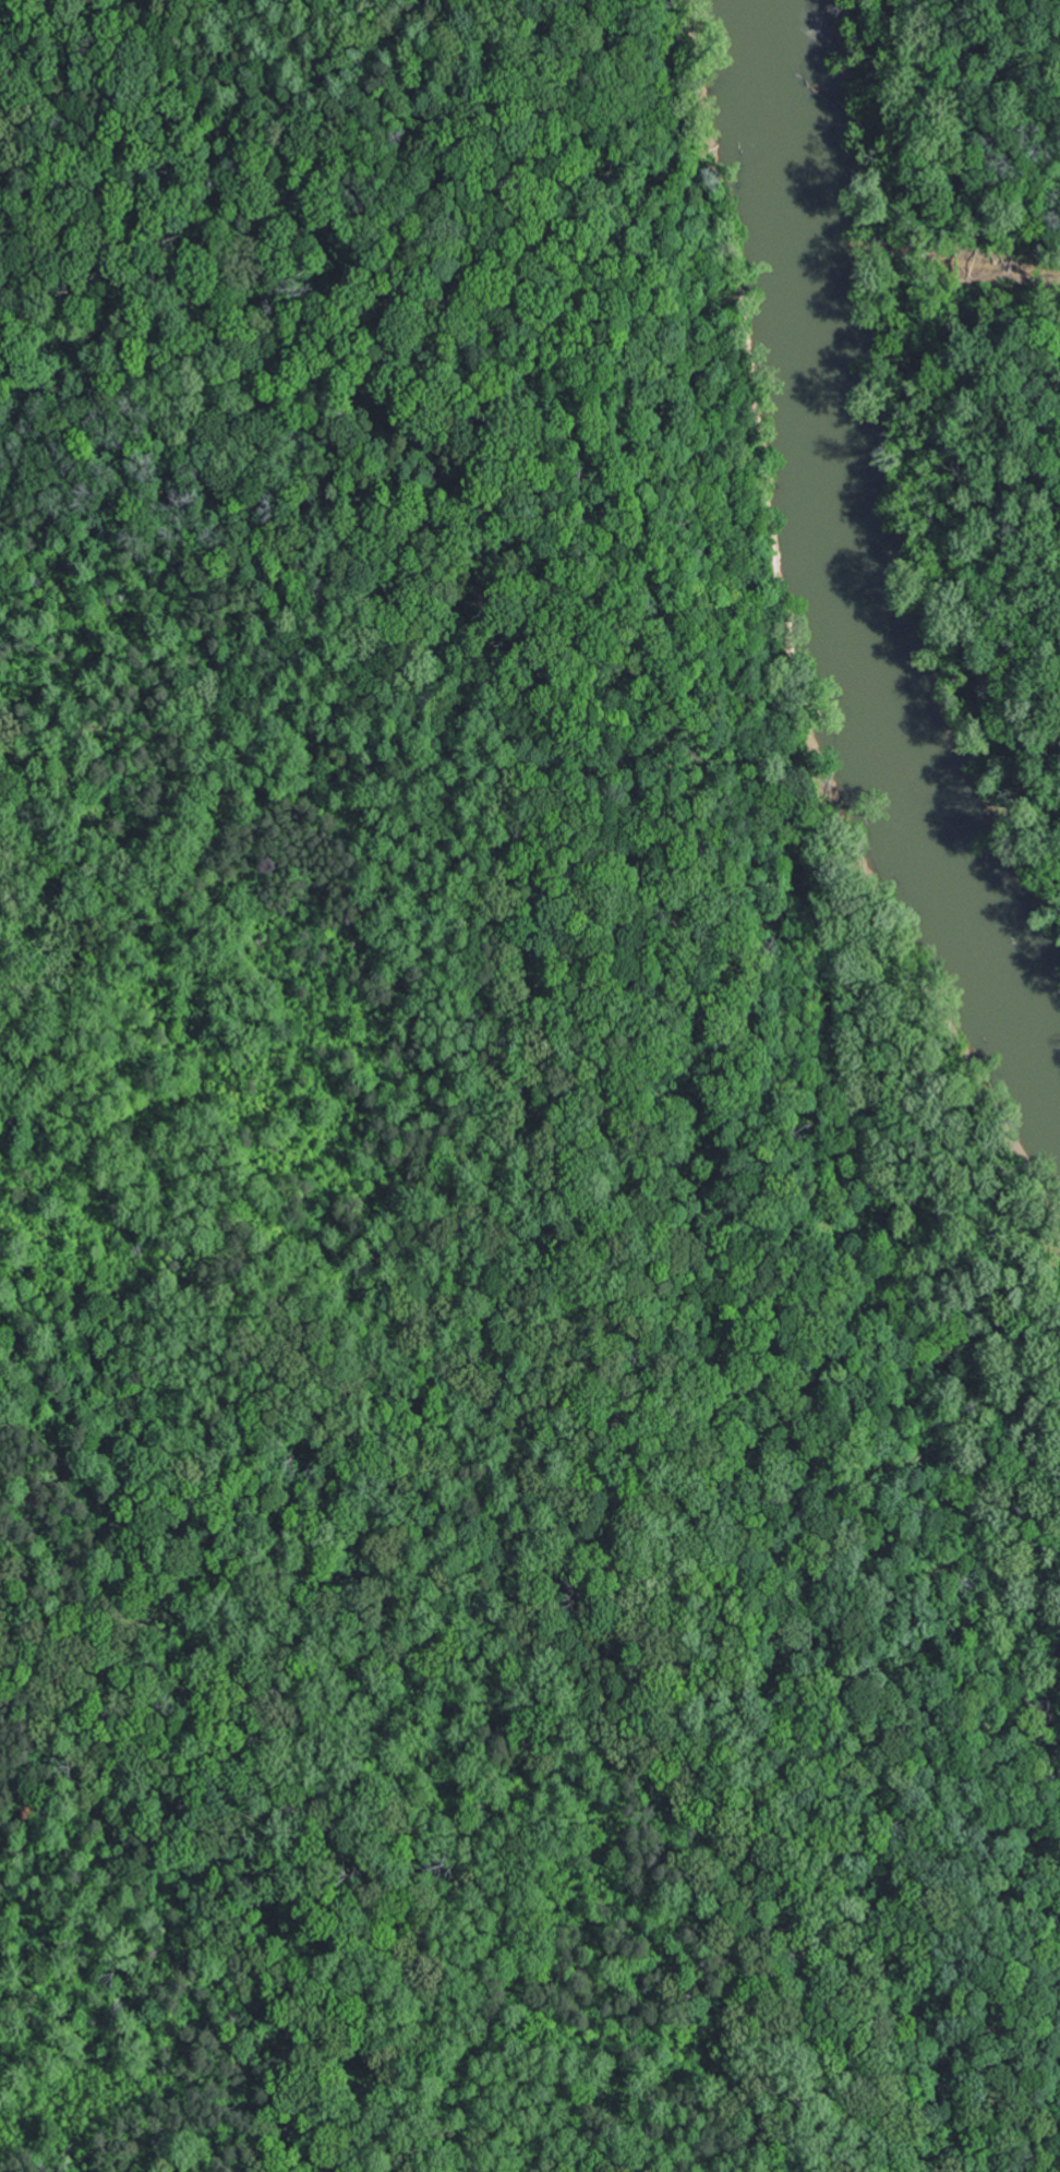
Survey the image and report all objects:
river: (835, 556)

